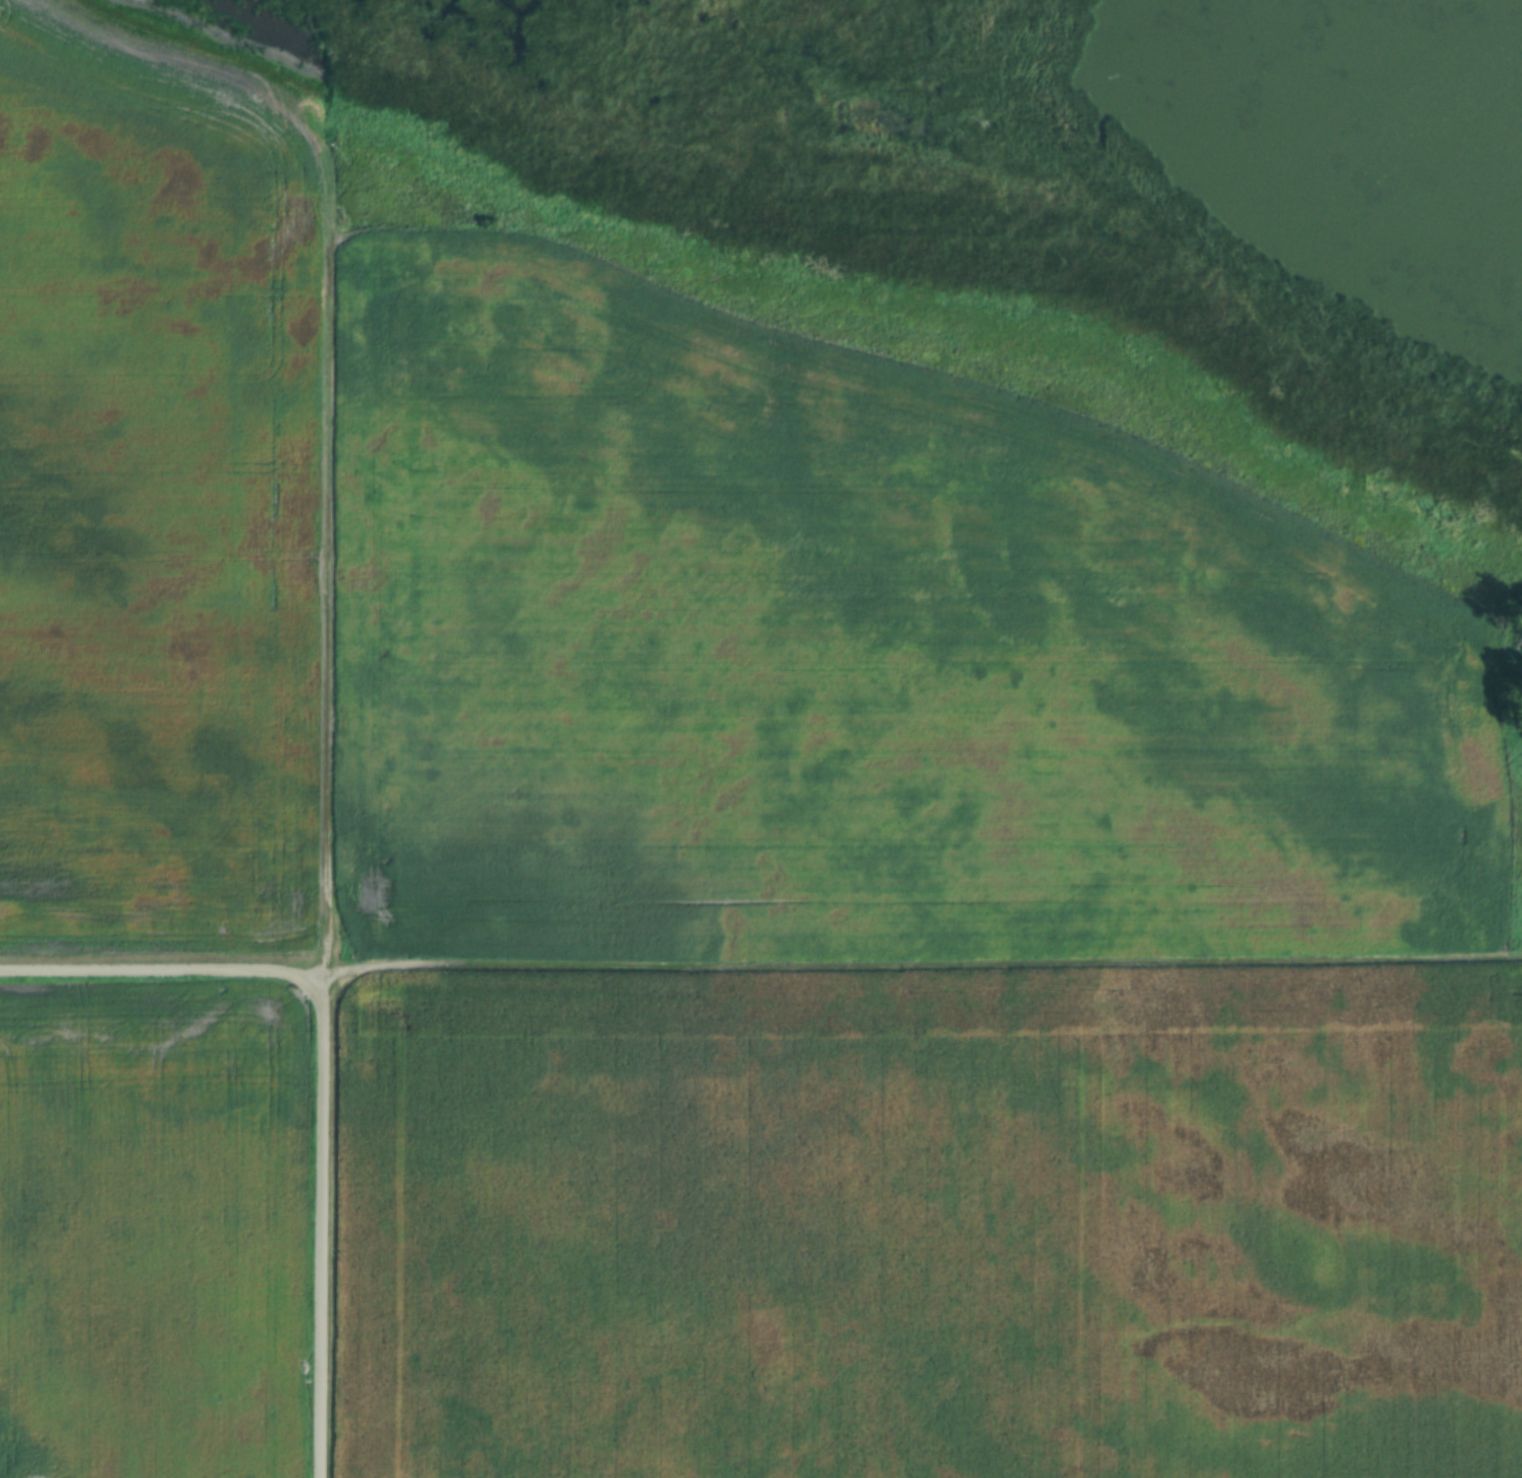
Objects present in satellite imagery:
road: (923, 971)
road: (163, 976)
road: (324, 1227)

